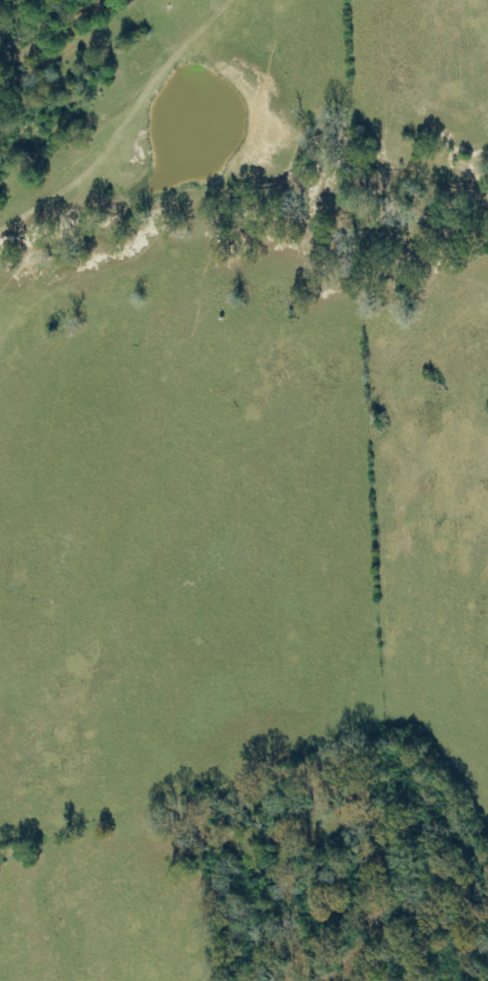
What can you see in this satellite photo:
road: (266, 337)
road: (145, 738)

